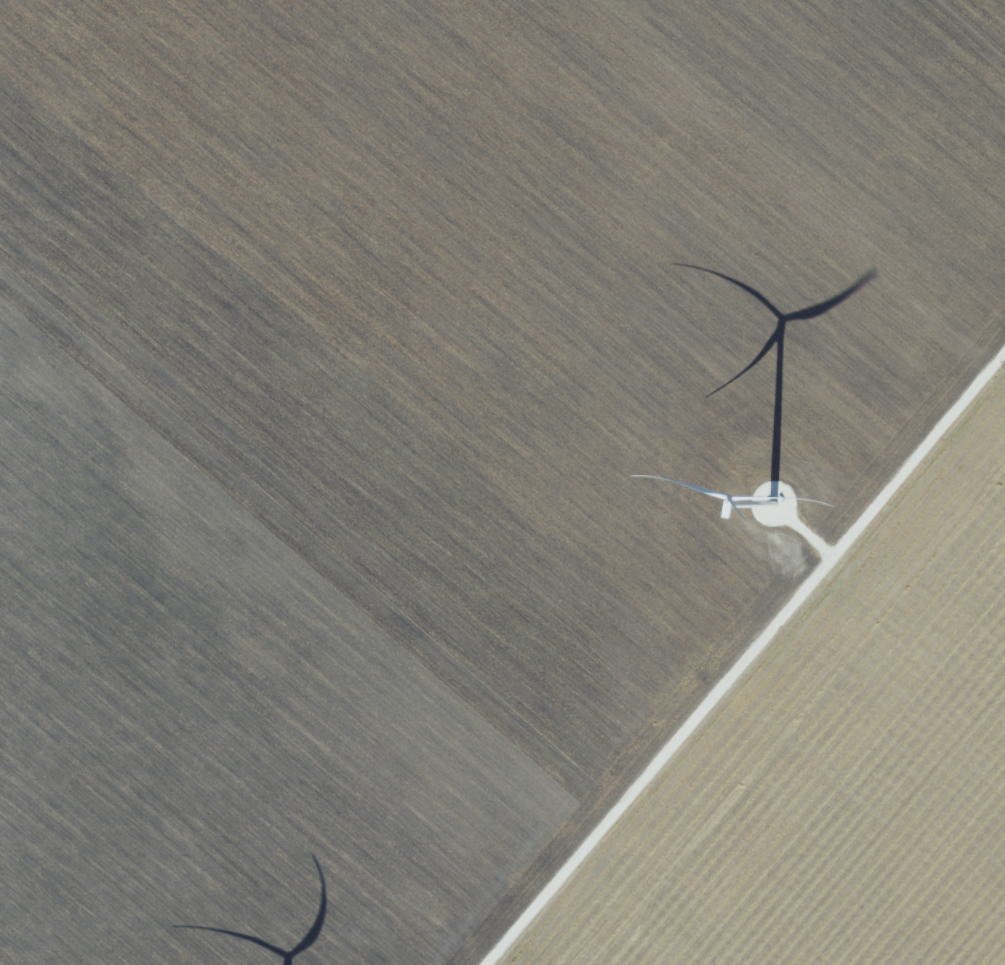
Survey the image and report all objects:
wind turbine: (776, 491)

